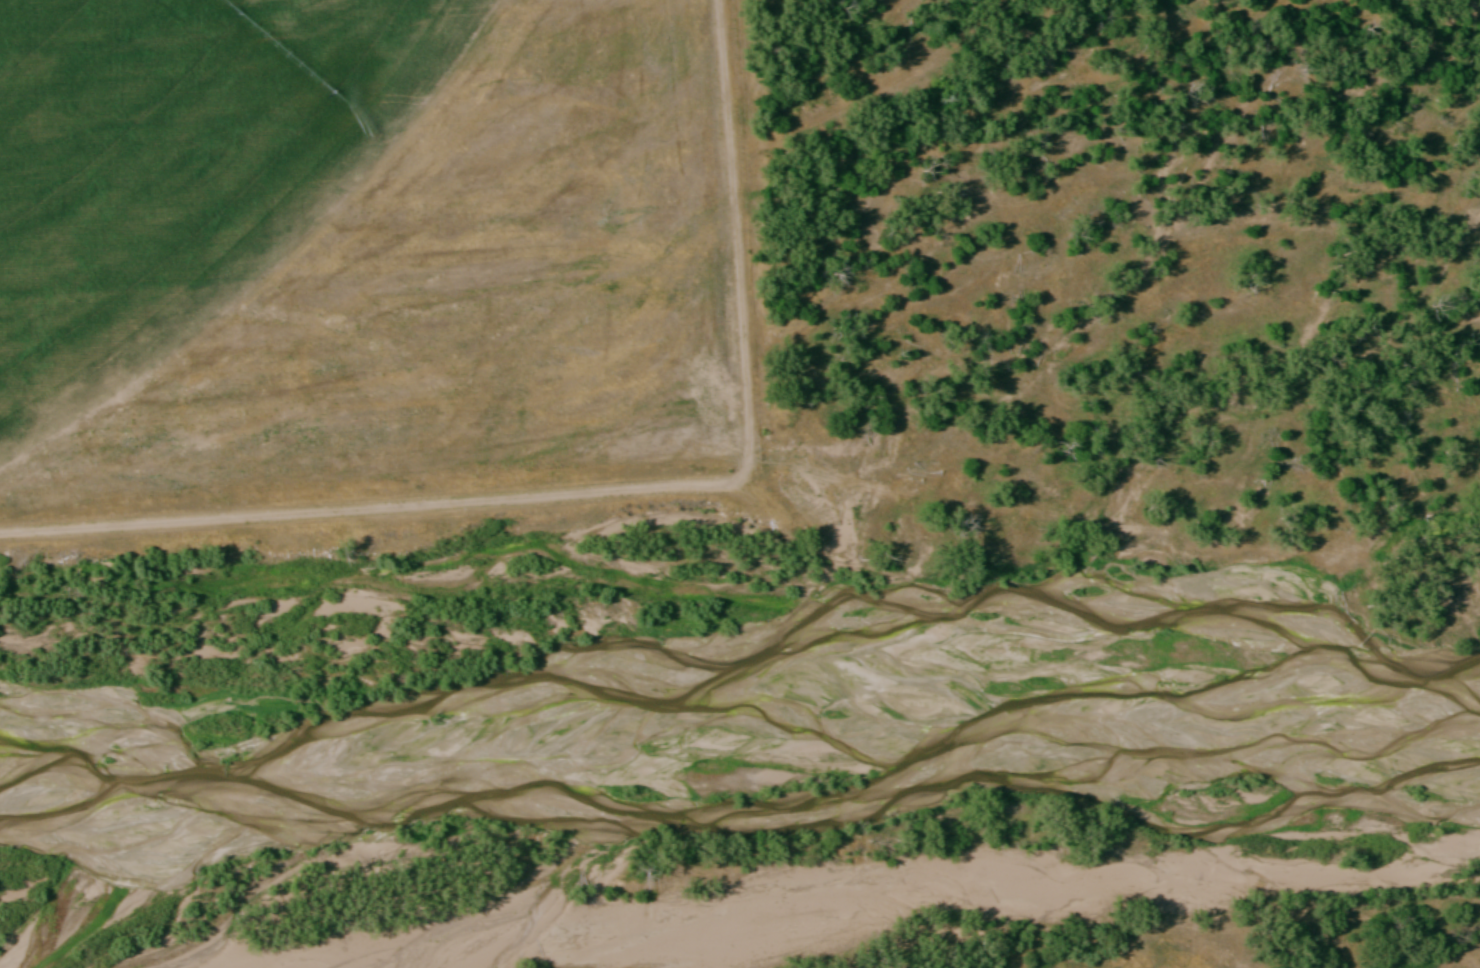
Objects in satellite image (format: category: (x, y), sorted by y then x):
river: (716, 694)

